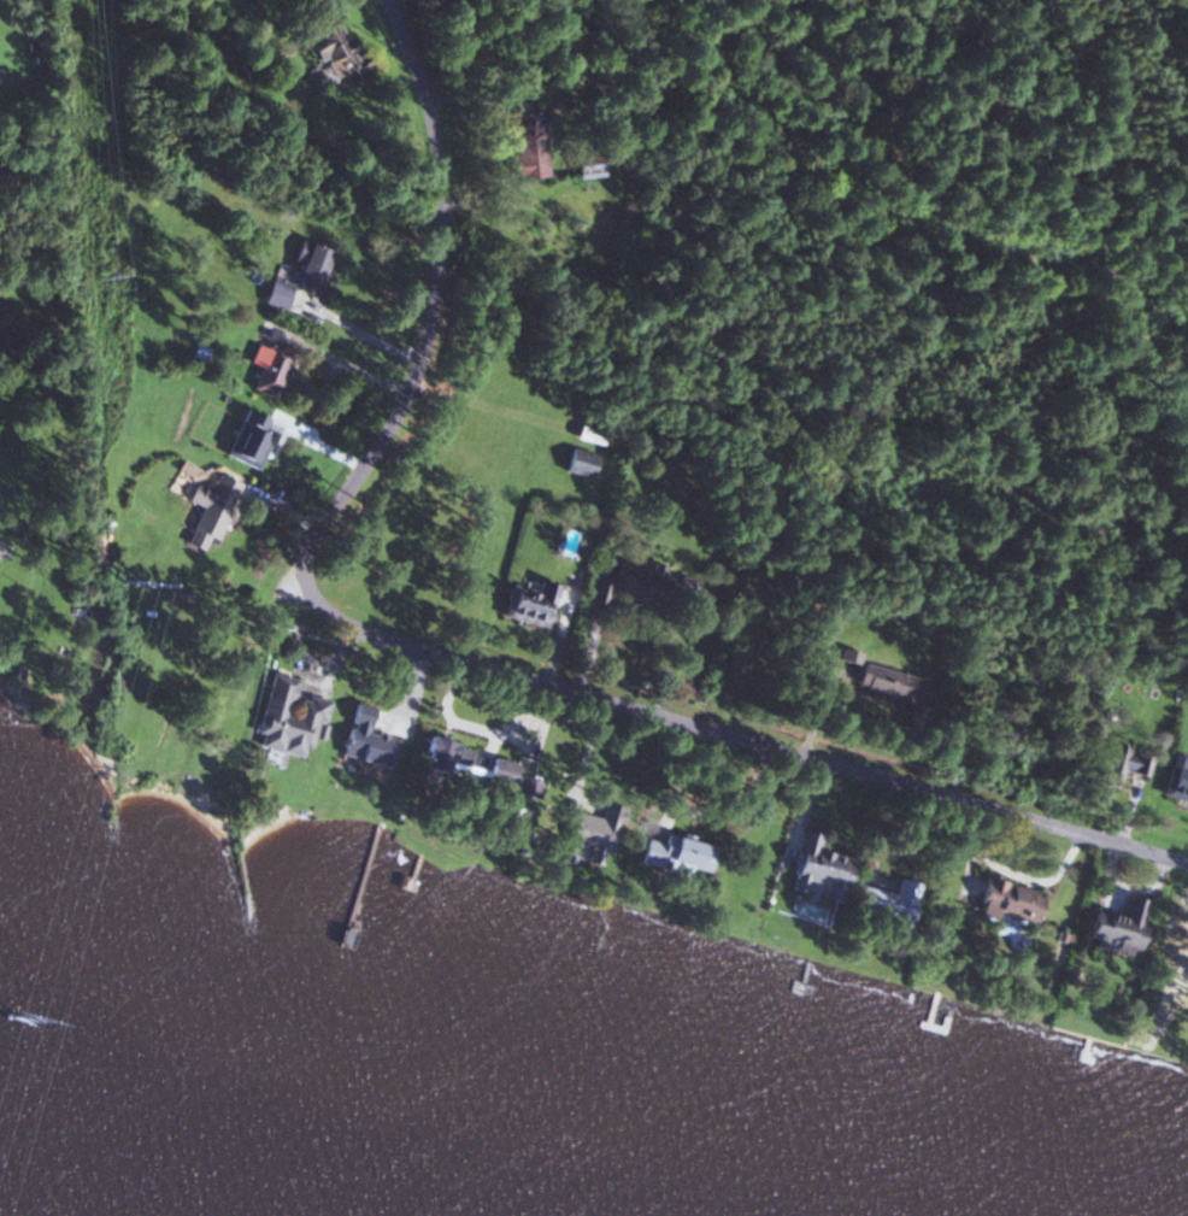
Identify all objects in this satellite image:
power tower: (59, 7)
building: (330, 53)
building: (524, 143)
building: (299, 275)
power tower: (90, 276)
road: (431, 319)
building: (266, 368)
building: (588, 435)
building: (248, 437)
building: (578, 463)
road: (7, 483)
building: (208, 510)
road: (11, 536)
power tower: (122, 565)
building: (651, 583)
building: (599, 594)
building: (530, 604)
building: (888, 683)
building: (288, 718)
building: (364, 739)
road: (753, 742)
building: (1117, 764)
building: (480, 766)
building: (1175, 780)
building: (593, 830)
building: (683, 851)
building: (817, 868)
building: (886, 899)
building: (1007, 900)
building: (1112, 927)
power tower: (16, 1018)

